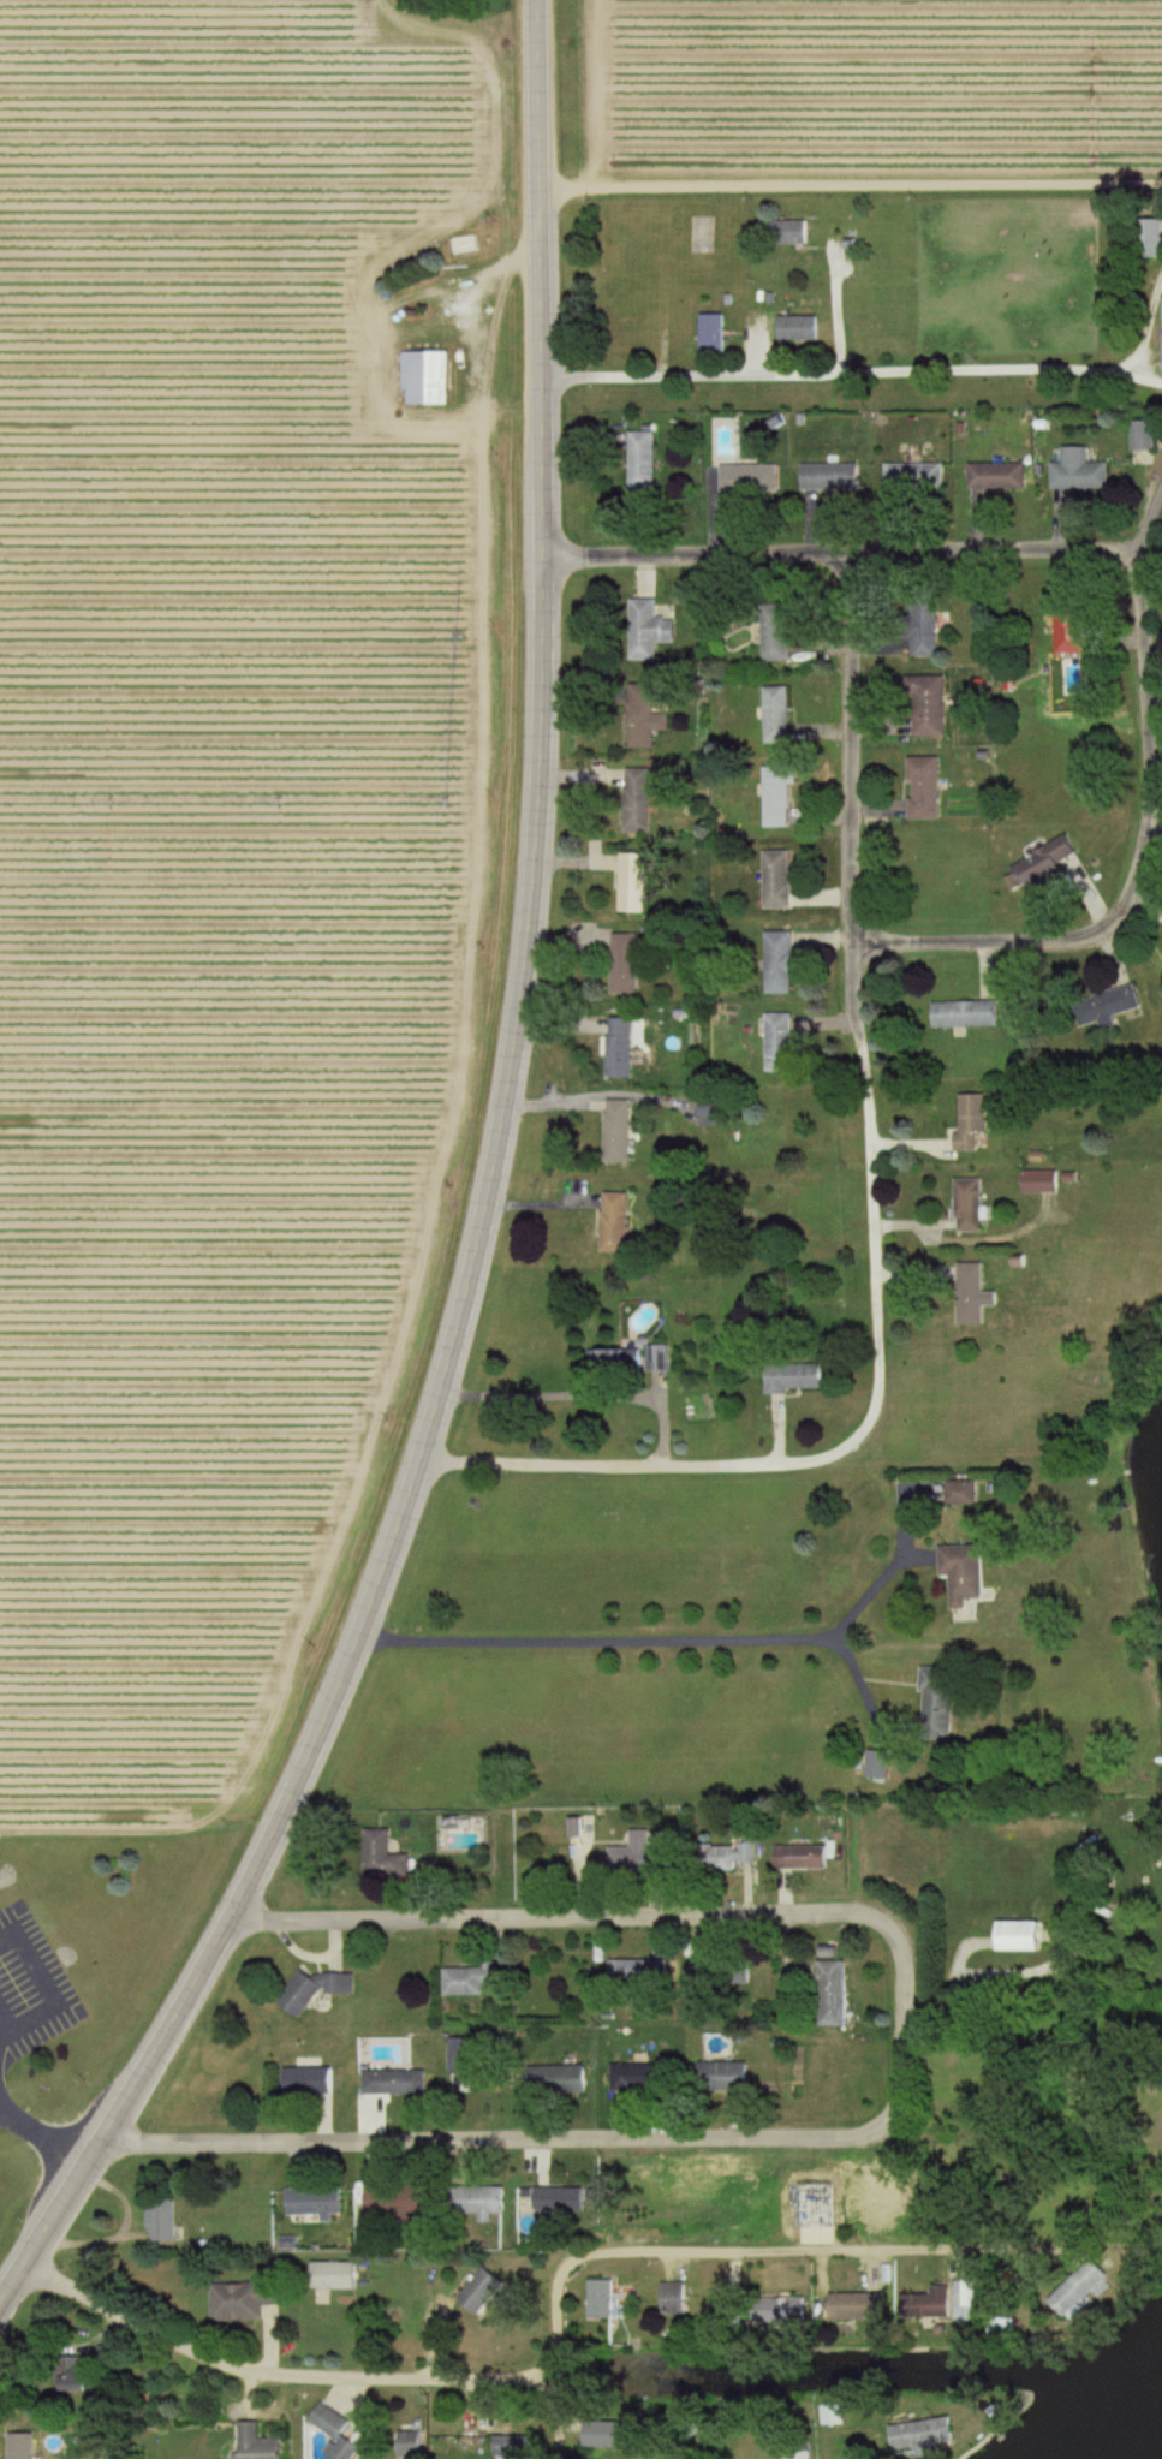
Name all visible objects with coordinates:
road: (848, 184)
building: (783, 232)
building: (1146, 238)
road: (834, 304)
building: (792, 328)
building: (714, 333)
road: (835, 374)
road: (1145, 374)
building: (424, 377)
building: (1136, 435)
building: (644, 460)
building: (1069, 471)
building: (832, 477)
building: (908, 477)
building: (990, 477)
building: (751, 478)
road: (1144, 523)
road: (838, 558)
building: (916, 626)
building: (651, 630)
building: (777, 632)
building: (1060, 636)
building: (920, 707)
building: (648, 710)
building: (776, 714)
road: (851, 751)
road: (1148, 754)
building: (928, 788)
building: (781, 797)
building: (642, 799)
building: (1033, 864)
crop: (214, 876)
building: (780, 880)
building: (637, 883)
road: (981, 943)
building: (782, 963)
building: (628, 964)
building: (1161, 969)
building: (1101, 1007)
building: (964, 1014)
building: (782, 1043)
building: (624, 1048)
building: (720, 1115)
building: (976, 1123)
building: (621, 1132)
building: (1044, 1181)
road: (484, 1201)
building: (973, 1205)
building: (619, 1222)
building: (973, 1294)
building: (632, 1363)
building: (798, 1377)
road: (580, 1394)
road: (875, 1422)
building: (955, 1494)
building: (954, 1576)
road: (642, 1637)
road: (860, 1689)
building: (930, 1703)
building: (642, 1853)
building: (740, 1853)
building: (391, 1857)
building: (804, 1857)
road: (560, 1912)
building: (1023, 1936)
building: (644, 1971)
building: (472, 1981)
building: (317, 1989)
building: (835, 1993)
road: (900, 2040)
building: (459, 2052)
building: (727, 2077)
building: (643, 2078)
building: (562, 2079)
building: (309, 2082)
building: (395, 2083)
road: (41, 2136)
road: (475, 2139)
building: (393, 2198)
building: (571, 2198)
building: (494, 2199)
building: (316, 2201)
building: (163, 2221)
road: (665, 2249)
building: (336, 2275)
building: (487, 2290)
building: (601, 2298)
building: (674, 2298)
building: (244, 2299)
building: (942, 2303)
building: (857, 2306)
building: (789, 2309)
building: (84, 2372)
road: (267, 2372)
building: (835, 2413)
building: (339, 2433)
building: (615, 2434)
building: (929, 2435)
building: (258, 2443)
building: (513, 2447)
building: (23, 2454)
building: (803, 2455)

